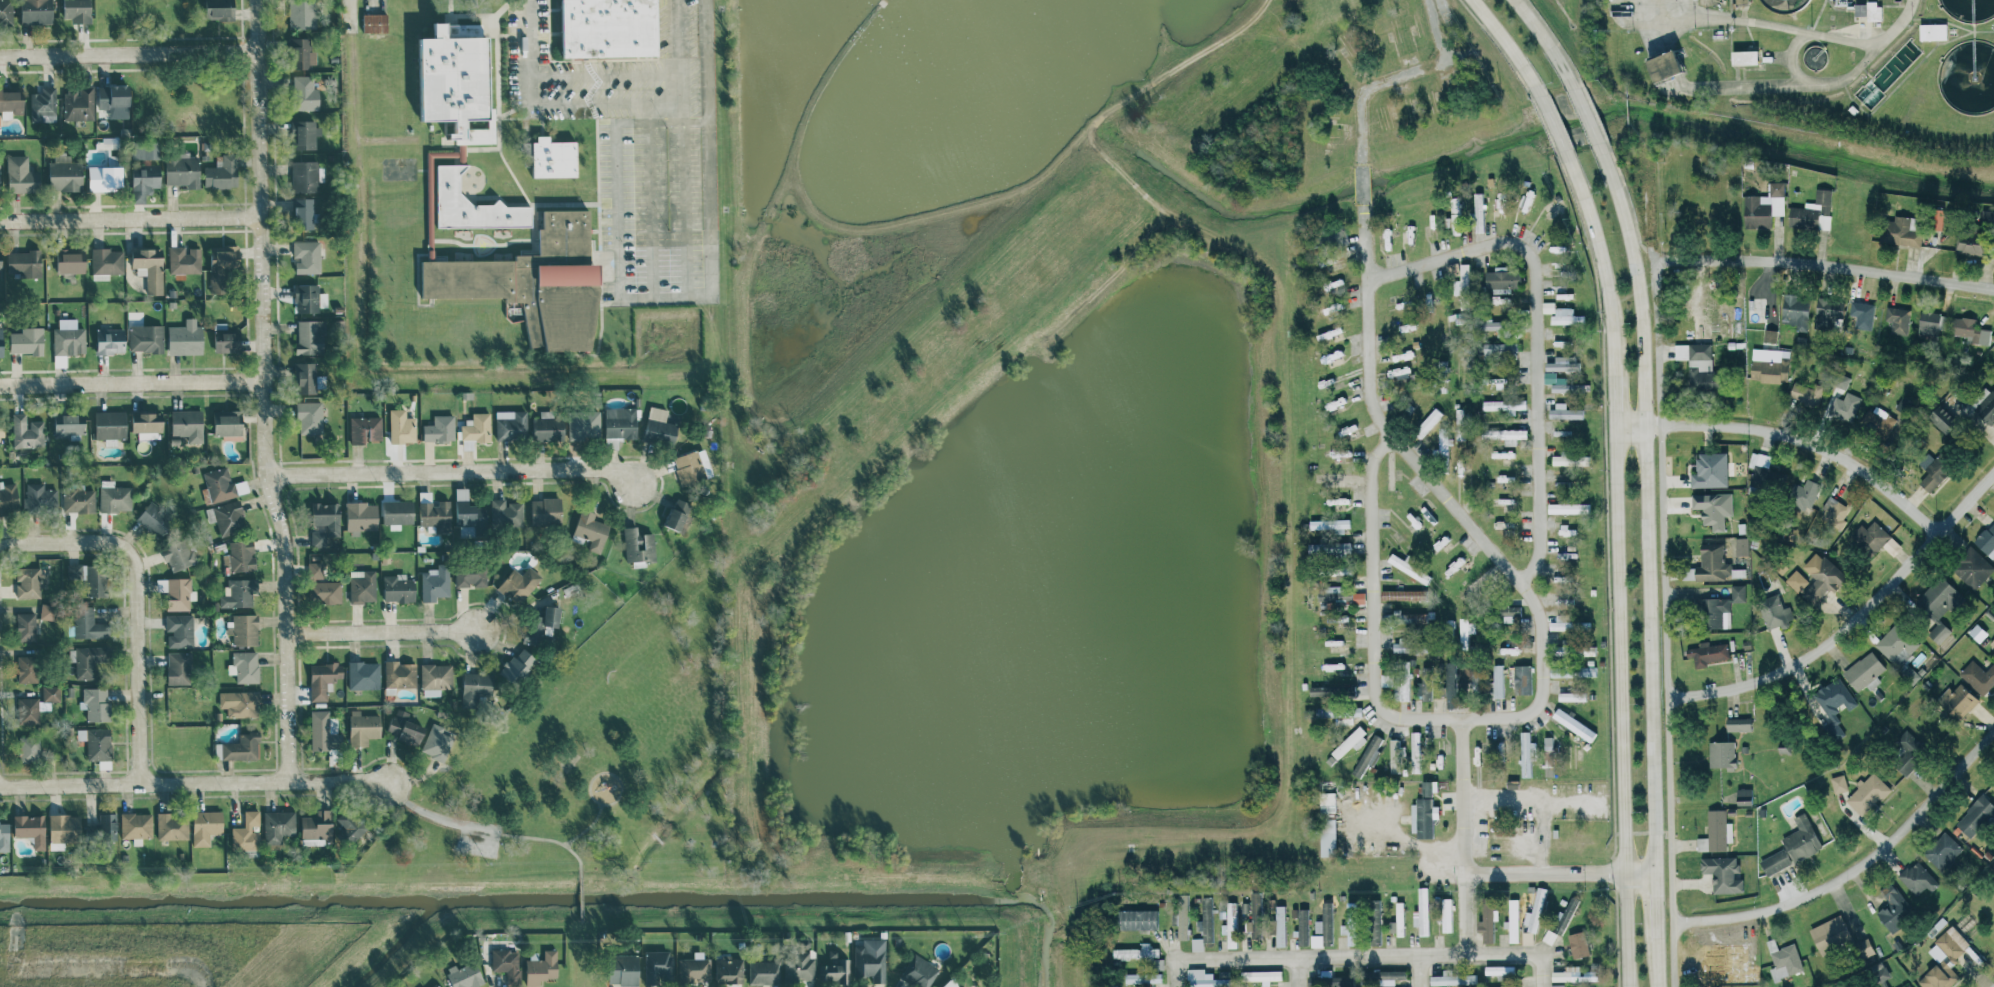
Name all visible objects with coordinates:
building: (1742, 2)
building: (220, 9)
building: (78, 10)
building: (1870, 10)
building: (6, 11)
building: (37, 11)
road: (1698, 12)
road: (1724, 12)
road: (1665, 13)
building: (302, 14)
road: (348, 14)
building: (375, 23)
road: (1771, 27)
building: (607, 28)
building: (1935, 31)
road: (529, 38)
road: (1543, 38)
road: (1505, 46)
building: (303, 52)
road: (128, 54)
building: (1749, 57)
road: (1789, 61)
wastewater plant: (1814, 66)
building: (1672, 67)
road: (592, 74)
building: (452, 80)
road: (1757, 90)
building: (305, 93)
building: (114, 96)
road: (606, 101)
building: (11, 103)
building: (79, 104)
building: (43, 105)
road: (1583, 110)
road: (1551, 122)
building: (306, 133)
road: (683, 147)
building: (145, 149)
building: (555, 158)
building: (0, 165)
river: (1425, 169)
building: (183, 171)
building: (65, 172)
building: (21, 175)
road: (711, 175)
building: (307, 176)
building: (106, 178)
building: (145, 180)
road: (652, 199)
building: (1766, 205)
building: (471, 206)
road: (617, 210)
building: (1480, 211)
building: (1814, 211)
building: (303, 213)
road: (130, 218)
building: (1458, 218)
building: (1902, 230)
building: (1973, 242)
building: (307, 256)
building: (184, 259)
building: (1, 260)
building: (71, 260)
building: (25, 262)
building: (107, 262)
road: (1824, 263)
building: (222, 265)
building: (149, 268)
building: (1463, 280)
building: (1503, 280)
building: (532, 282)
road: (652, 297)
building: (309, 298)
building: (1832, 308)
building: (1798, 310)
building: (1863, 313)
building: (1567, 316)
building: (1898, 318)
building: (1930, 323)
building: (1499, 326)
building: (1771, 328)
building: (1972, 329)
building: (311, 335)
building: (146, 337)
building: (186, 337)
building: (226, 337)
road: (1544, 338)
building: (27, 340)
building: (69, 340)
building: (111, 340)
building: (1, 341)
building: (1500, 347)
building: (1700, 358)
building: (1561, 362)
building: (1771, 364)
building: (306, 376)
building: (1499, 379)
road: (131, 383)
building: (1564, 383)
road: (263, 392)
building: (1807, 392)
building: (1506, 403)
building: (1846, 406)
building: (1566, 411)
building: (1989, 411)
building: (311, 416)
building: (1431, 419)
building: (621, 421)
building: (1462, 422)
building: (1882, 422)
building: (146, 423)
building: (585, 423)
building: (69, 424)
building: (187, 424)
building: (229, 424)
building: (511, 424)
building: (111, 425)
building: (660, 425)
building: (2, 426)
building: (402, 426)
building: (549, 426)
building: (440, 427)
building: (365, 428)
building: (475, 429)
road: (1976, 430)
building: (27, 431)
building: (1510, 432)
road: (1791, 436)
building: (1445, 440)
building: (1570, 459)
building: (693, 465)
building: (1713, 469)
road: (452, 470)
building: (1763, 471)
building: (1934, 475)
building: (1334, 476)
building: (223, 484)
building: (1806, 493)
building: (115, 496)
building: (40, 497)
building: (78, 499)
building: (1340, 500)
road: (1644, 504)
building: (1569, 506)
building: (1715, 507)
building: (469, 510)
building: (547, 510)
building: (397, 512)
building: (435, 512)
building: (506, 512)
building: (679, 513)
building: (151, 516)
building: (362, 516)
building: (229, 517)
building: (325, 522)
building: (1332, 523)
building: (1992, 528)
building: (592, 529)
building: (631, 540)
road: (31, 543)
building: (1987, 544)
building: (1743, 545)
building: (1333, 547)
building: (178, 553)
building: (241, 555)
building: (1715, 562)
road: (1618, 565)
building: (1973, 567)
building: (1411, 568)
building: (1337, 570)
building: (471, 574)
building: (91, 577)
building: (30, 581)
building: (435, 582)
building: (1479, 583)
building: (519, 584)
building: (363, 585)
road: (1664, 586)
building: (399, 587)
building: (1945, 588)
building: (177, 591)
building: (325, 591)
building: (238, 593)
building: (1404, 594)
building: (1336, 596)
building: (1360, 596)
building: (1724, 606)
building: (1512, 609)
building: (47, 610)
building: (1774, 610)
building: (1403, 616)
road: (1851, 618)
building: (1565, 622)
building: (88, 623)
building: (542, 623)
building: (26, 626)
building: (243, 628)
building: (179, 629)
road: (382, 632)
road: (136, 633)
building: (1941, 633)
building: (1897, 641)
road: (1536, 642)
building: (1406, 644)
building: (1562, 648)
building: (1707, 653)
building: (87, 659)
building: (520, 663)
building: (244, 665)
building: (179, 667)
building: (28, 668)
building: (1573, 668)
building: (1865, 672)
building: (400, 673)
building: (364, 674)
building: (1979, 677)
building: (323, 678)
building: (435, 678)
building: (1523, 678)
building: (1403, 679)
building: (1499, 680)
building: (1425, 682)
building: (475, 687)
building: (1345, 690)
building: (51, 693)
building: (1573, 695)
building: (1837, 696)
building: (1452, 697)
building: (1958, 701)
building: (240, 702)
building: (95, 703)
building: (28, 710)
building: (1337, 713)
building: (1576, 724)
building: (1738, 724)
building: (405, 726)
building: (363, 727)
building: (320, 729)
building: (1417, 740)
building: (1350, 741)
building: (437, 742)
building: (97, 744)
building: (29, 747)
building: (239, 747)
park: (602, 750)
building: (1529, 752)
building: (1908, 752)
building: (1722, 753)
building: (1369, 754)
building: (1396, 755)
building: (1550, 765)
road: (193, 783)
building: (1839, 783)
building: (1867, 794)
road: (616, 799)
road: (1535, 808)
building: (1426, 810)
building: (1976, 815)
road: (436, 816)
building: (1329, 823)
building: (136, 824)
building: (351, 824)
building: (108, 825)
building: (173, 825)
building: (206, 825)
building: (278, 826)
building: (318, 827)
building: (31, 828)
road: (586, 828)
building: (64, 829)
road: (1648, 831)
building: (247, 832)
building: (1716, 832)
road: (1466, 834)
building: (4, 836)
road: (1407, 838)
building: (1802, 839)
road: (550, 840)
building: (1943, 851)
building: (1776, 861)
road: (1856, 867)
building: (1723, 874)
road: (1561, 875)
building: (1918, 878)
road: (580, 901)
road: (1655, 906)
building: (1895, 907)
building: (1437, 908)
building: (1535, 910)
building: (1423, 911)
building: (1253, 915)
building: (1447, 915)
building: (1396, 918)
building: (1139, 919)
building: (1207, 919)
building: (1182, 921)
building: (1513, 921)
building: (1277, 922)
building: (1328, 923)
building: (1487, 923)
building: (1231, 924)
building: (1303, 926)
building: (1319, 926)
building: (1831, 933)
building: (1548, 936)
building: (1527, 938)
building: (1317, 941)
building: (1578, 944)
building: (1956, 947)
building: (1864, 948)
building: (1137, 952)
road: (582, 954)
road: (1370, 957)
building: (870, 960)
building: (1784, 960)
building: (507, 961)
road: (1656, 963)
building: (657, 966)
building: (541, 968)
building: (622, 969)
building: (693, 969)
building: (728, 969)
building: (835, 971)
building: (919, 971)
building: (1501, 971)
building: (1880, 971)
building: (1940, 971)
building: (763, 972)
road: (1427, 973)
building: (1574, 974)
building: (464, 975)
building: (1261, 975)
road: (1302, 975)
building: (1392, 975)
building: (1143, 977)
building: (1454, 978)
building: (1206, 979)
building: (949, 984)
building: (1884, 984)
building: (434, 985)
building: (1557, 985)
building: (1908, 985)
building: (422, 986)

